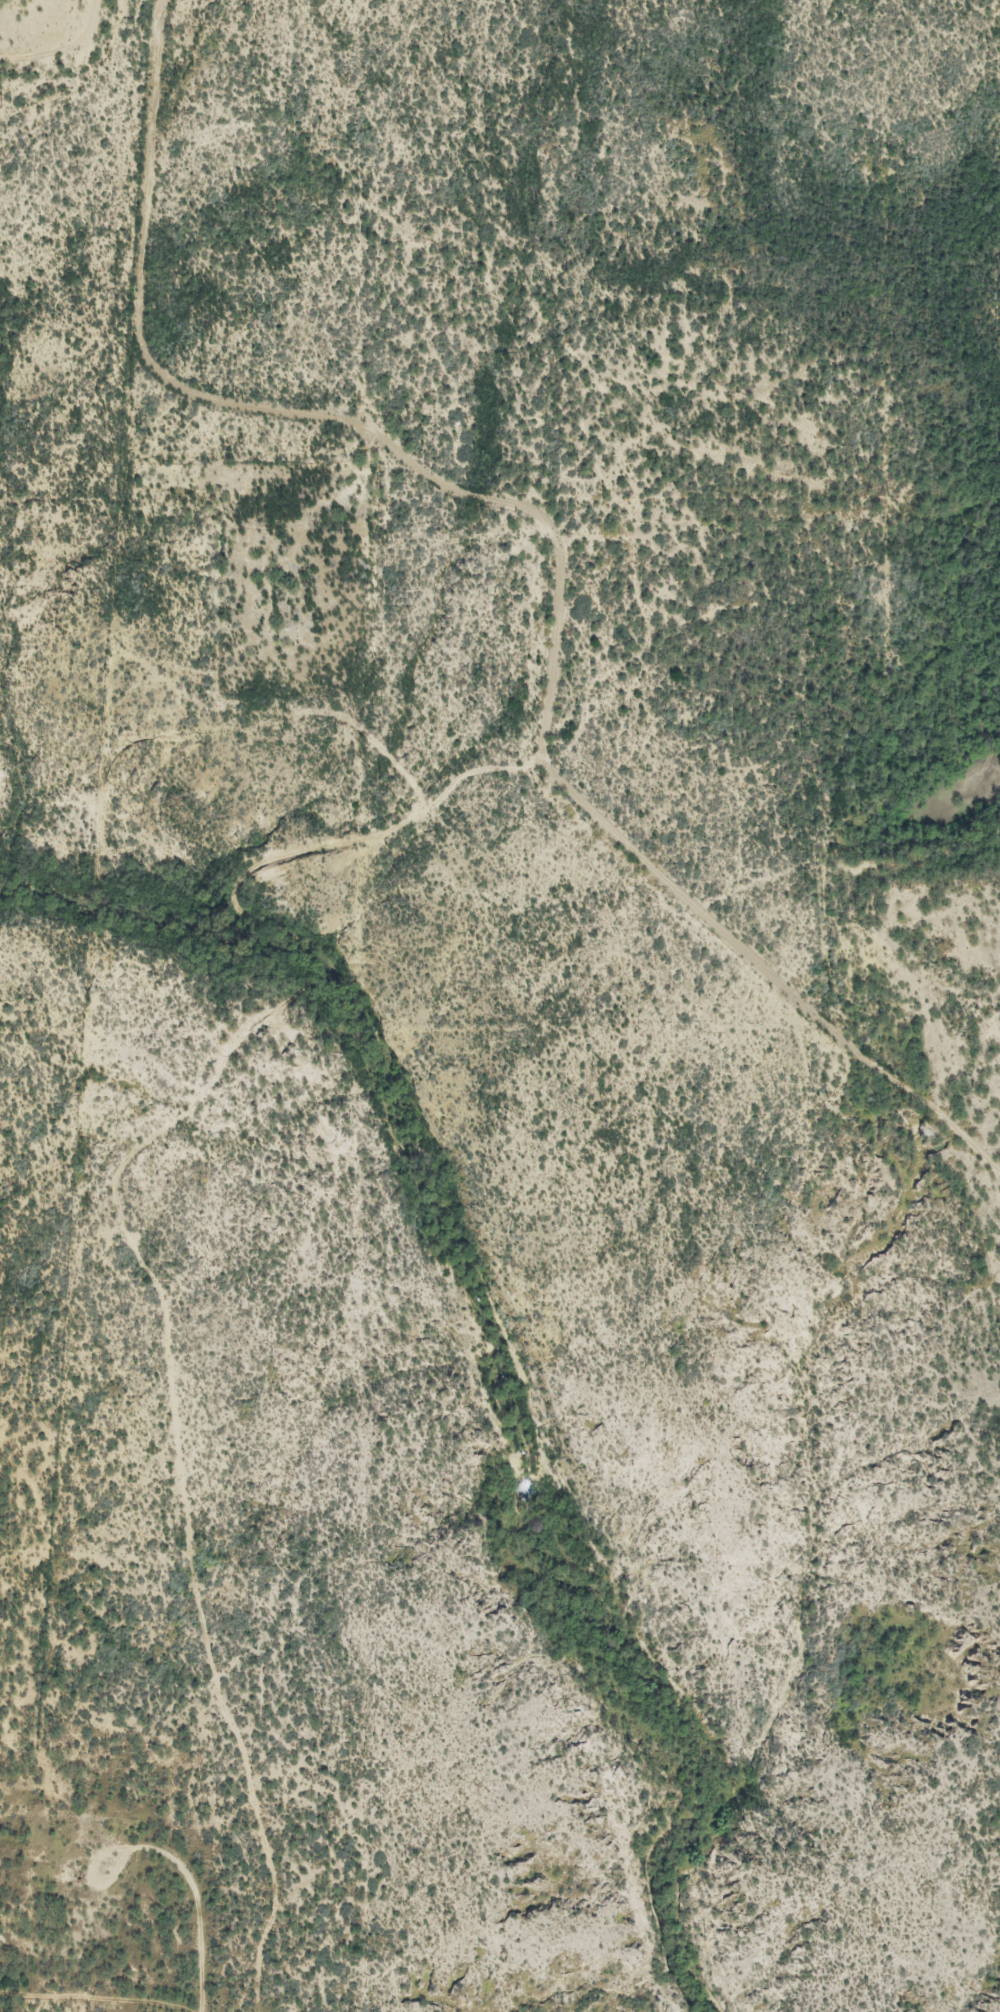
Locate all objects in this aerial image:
road: (199, 1938)

